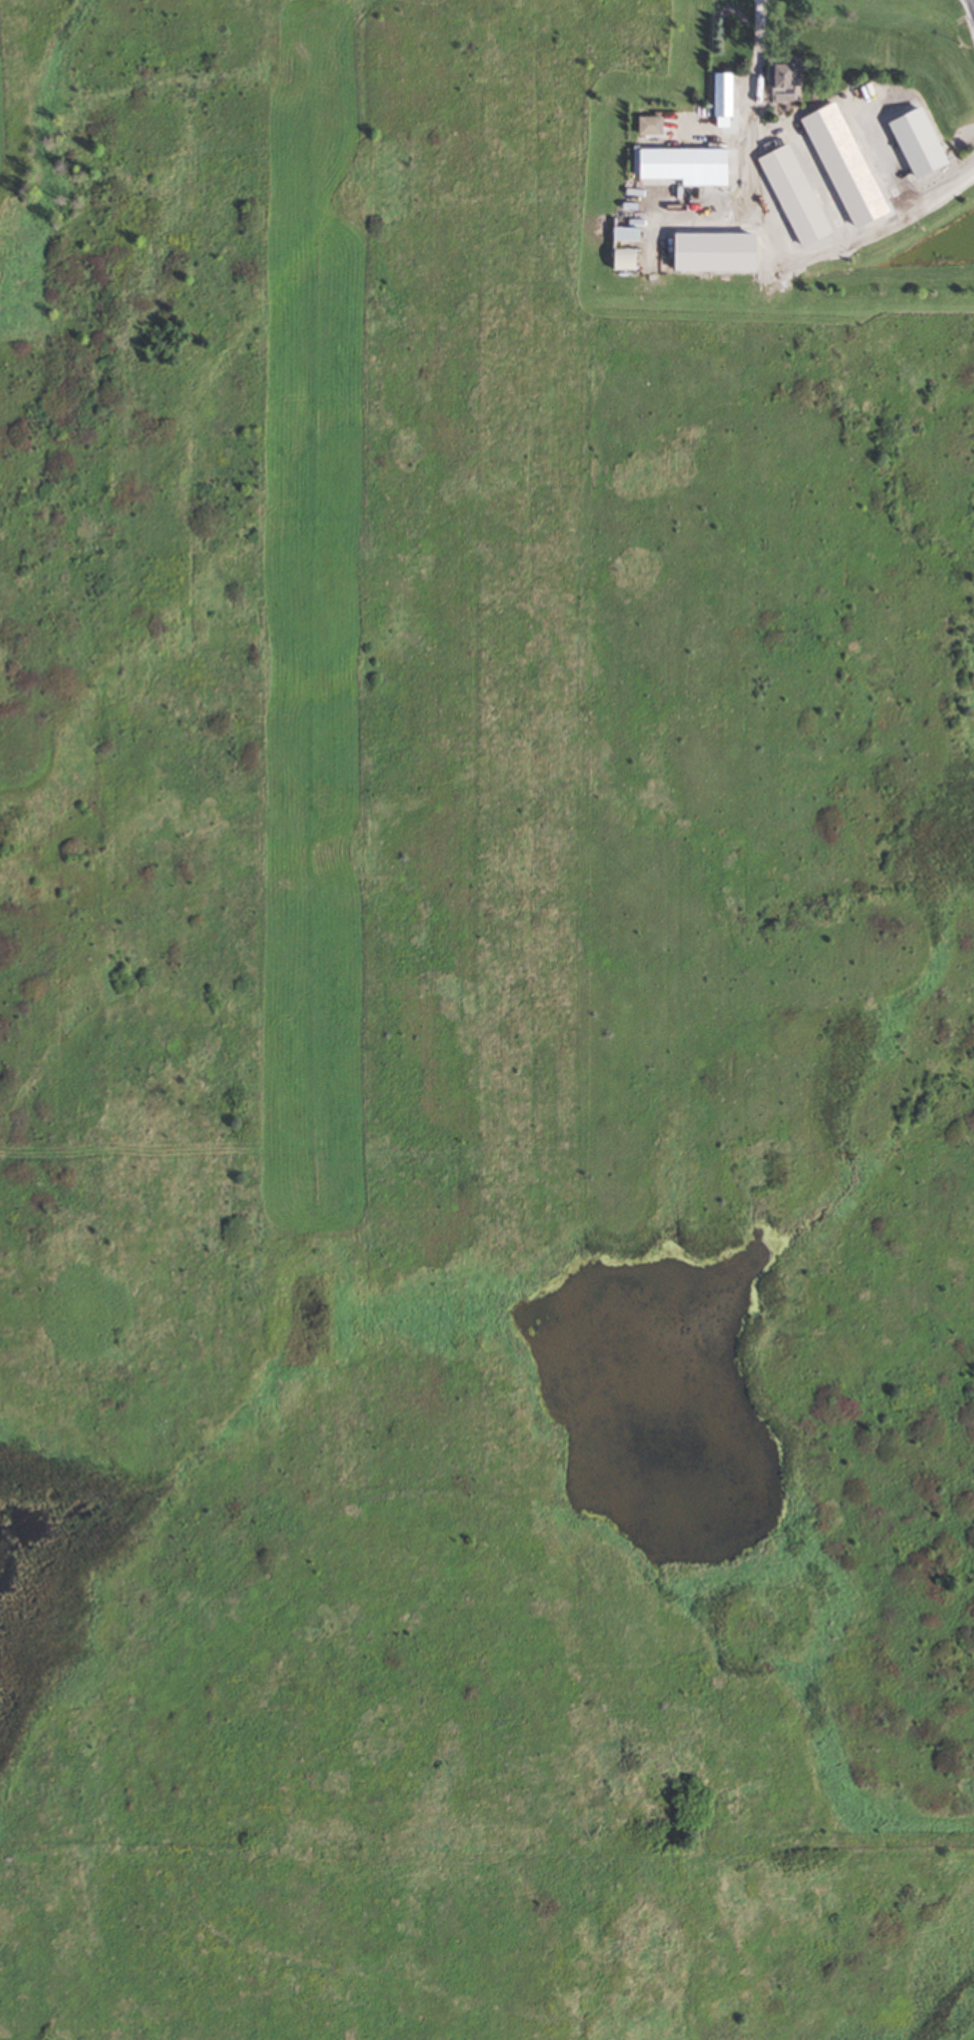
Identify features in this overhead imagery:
building: (787, 77)
building: (725, 100)
building: (652, 125)
building: (688, 166)
building: (802, 228)
road: (764, 235)
building: (813, 250)
building: (729, 264)

